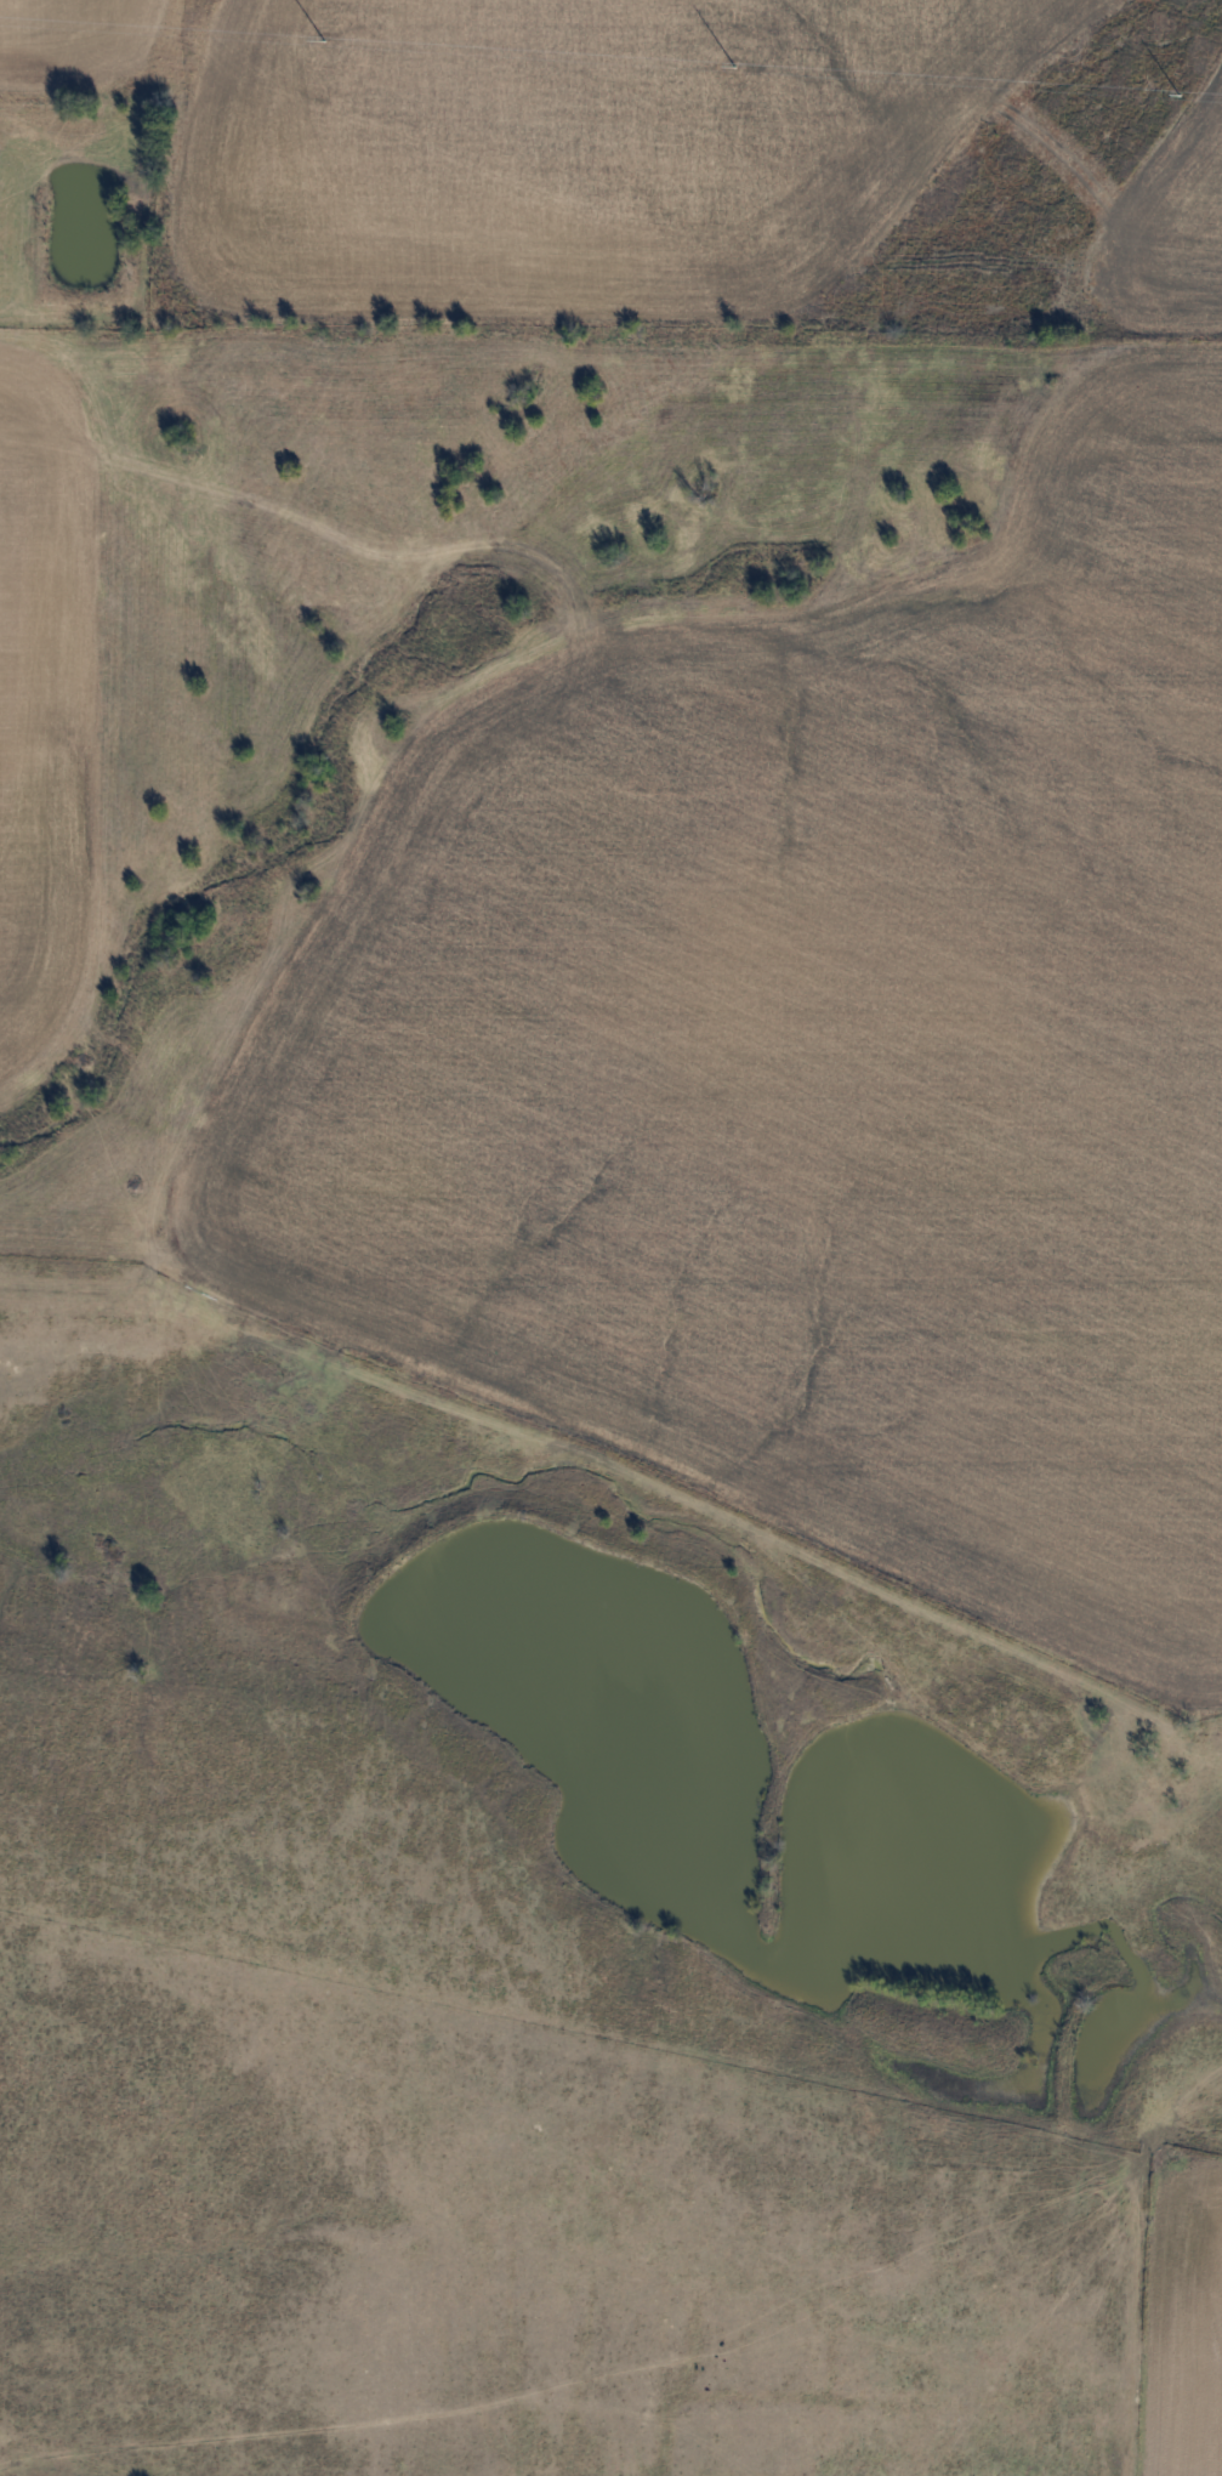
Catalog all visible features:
power tower: (324, 40)
power tower: (733, 67)
power tower: (1178, 95)

